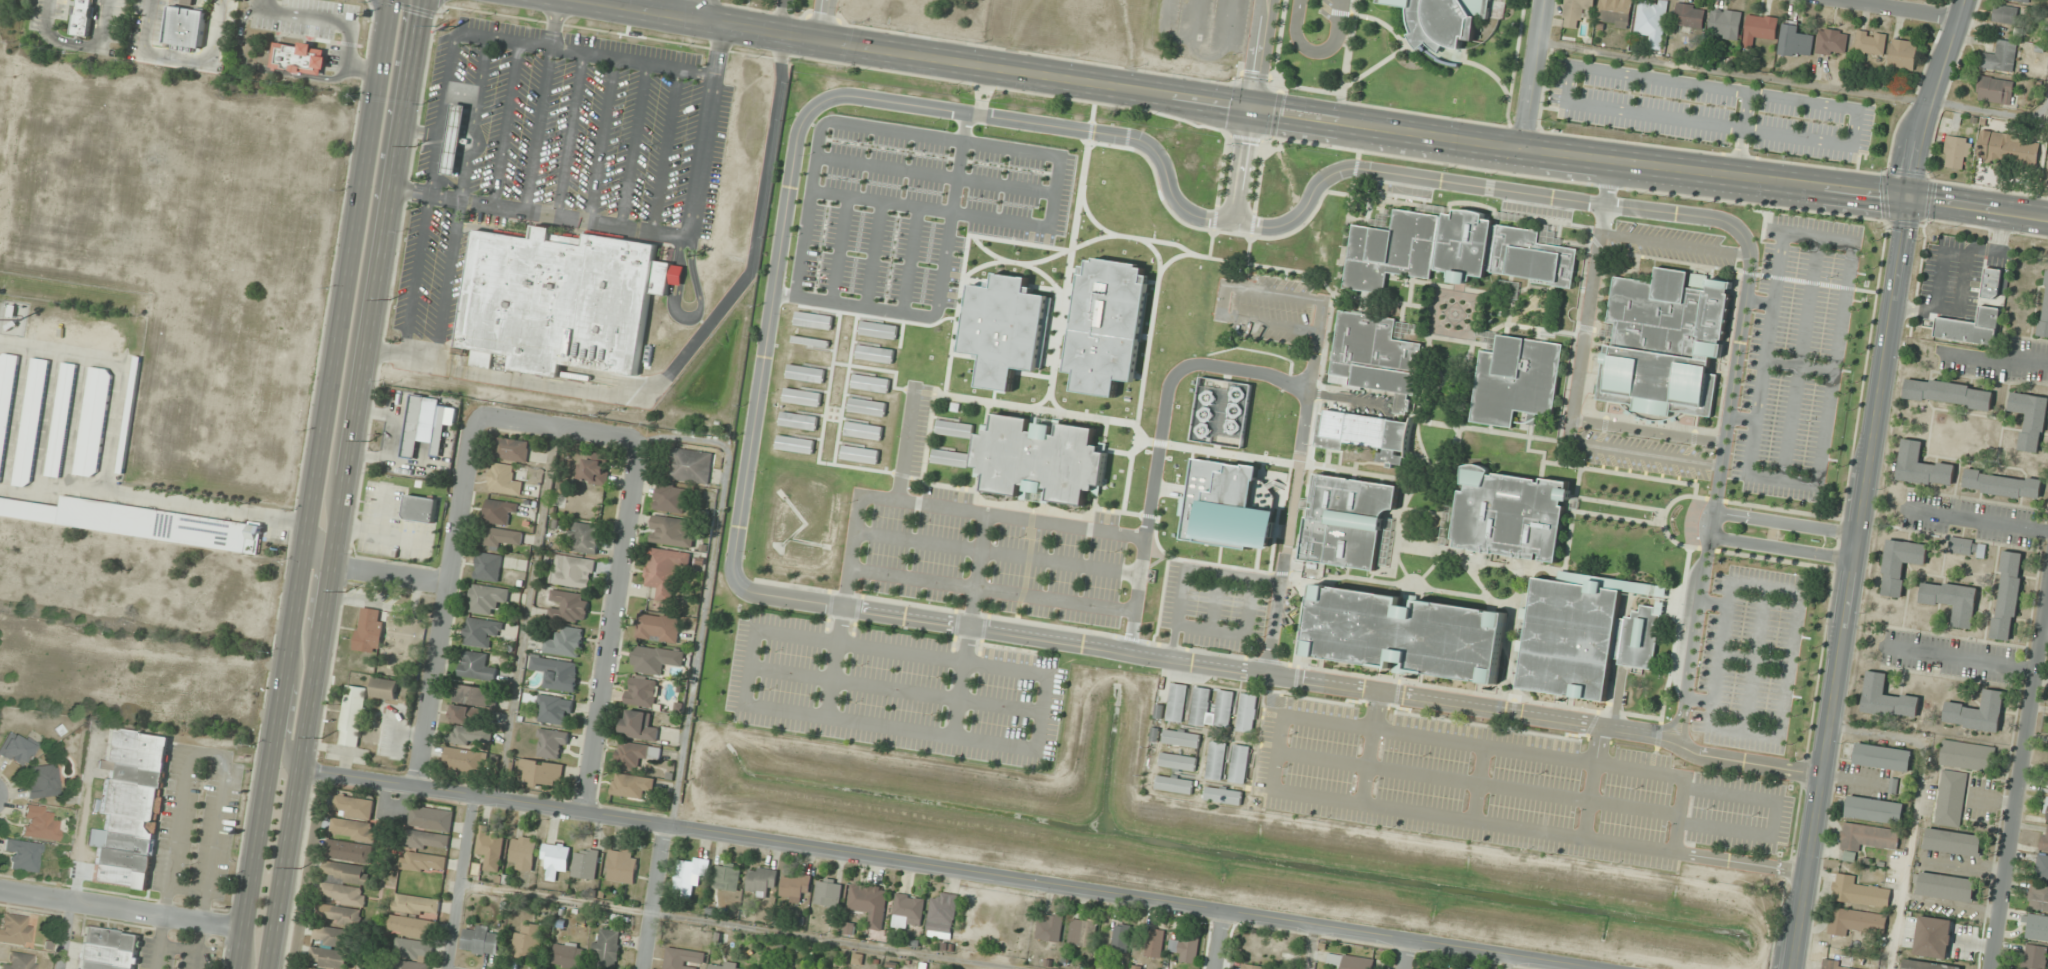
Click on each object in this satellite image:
building: (2022, 0)
road: (703, 8)
road: (1897, 10)
building: (1576, 12)
building: (1615, 12)
building: (2006, 14)
building: (1689, 17)
building: (84, 18)
road: (320, 18)
road: (827, 18)
building: (1440, 21)
building: (1653, 21)
road: (554, 23)
building: (1725, 23)
building: (184, 25)
building: (1760, 28)
road: (503, 39)
building: (1795, 40)
building: (1832, 42)
building: (1871, 43)
road: (1347, 48)
road: (1401, 48)
road: (1315, 50)
road: (1251, 54)
building: (1903, 54)
road: (1266, 55)
building: (298, 56)
building: (2000, 56)
road: (179, 58)
building: (1446, 62)
road: (1513, 63)
road: (1481, 67)
road: (261, 68)
road: (362, 68)
road: (1531, 74)
road: (1796, 81)
road: (1703, 86)
road: (984, 90)
building: (1995, 90)
road: (1933, 98)
road: (1354, 103)
road: (1135, 108)
traffic signals: (1253, 109)
road: (1254, 109)
road: (1744, 111)
road: (505, 123)
road: (860, 125)
road: (537, 128)
road: (703, 128)
road: (1531, 130)
road: (568, 133)
building: (453, 137)
gas station: (453, 137)
road: (601, 139)
road: (632, 144)
building: (2008, 148)
road: (664, 149)
road: (1705, 151)
building: (1954, 151)
road: (1244, 166)
road: (937, 174)
road: (1519, 174)
road: (1508, 190)
road: (1057, 192)
road: (460, 197)
traffic signals: (1910, 199)
road: (1318, 202)
road: (1979, 209)
road: (537, 212)
road: (1091, 218)
building: (1090, 234)
building: (1134, 240)
road: (1154, 241)
road: (1674, 244)
road: (840, 249)
building: (1452, 250)
road: (1156, 253)
building: (1067, 254)
road: (875, 255)
road: (910, 260)
road: (1017, 262)
building: (1130, 264)
road: (416, 274)
road: (1047, 276)
building: (1991, 283)
road: (1258, 290)
road: (784, 295)
building: (559, 298)
road: (1759, 300)
road: (843, 303)
road: (1587, 309)
road: (1841, 311)
building: (2044, 311)
road: (687, 317)
building: (811, 319)
road: (909, 323)
building: (1106, 325)
road: (1270, 325)
building: (1970, 327)
building: (1003, 328)
building: (877, 329)
road: (1152, 330)
road: (766, 336)
building: (808, 340)
building: (1662, 344)
road: (836, 345)
road: (685, 350)
building: (873, 352)
building: (1374, 355)
road: (1799, 358)
road: (1994, 359)
road: (125, 364)
road: (1797, 364)
building: (1050, 365)
road: (882, 370)
building: (804, 372)
building: (1516, 379)
building: (869, 381)
road: (1170, 388)
building: (1066, 392)
building: (1948, 393)
building: (6, 396)
building: (800, 396)
road: (1349, 397)
road: (995, 400)
building: (865, 406)
road: (16, 416)
building: (2030, 418)
building: (797, 419)
road: (46, 420)
building: (61, 420)
road: (73, 421)
building: (31, 422)
building: (93, 422)
building: (414, 426)
building: (953, 428)
building: (862, 429)
building: (440, 430)
road: (558, 430)
road: (1647, 431)
building: (1363, 433)
road: (926, 440)
building: (793, 443)
road: (905, 443)
road: (1162, 443)
building: (511, 449)
building: (858, 453)
road: (1643, 453)
building: (948, 457)
building: (1038, 459)
building: (691, 465)
building: (1921, 466)
building: (596, 468)
road: (1616, 473)
building: (504, 479)
building: (1263, 479)
road: (313, 484)
road: (344, 484)
building: (2002, 484)
road: (1128, 487)
road: (1295, 487)
road: (52, 490)
building: (671, 498)
road: (1604, 501)
road: (1023, 506)
building: (1223, 506)
building: (421, 509)
road: (1787, 510)
building: (500, 511)
road: (206, 512)
building: (1509, 513)
road: (1589, 513)
road: (1663, 516)
road: (1975, 519)
building: (135, 520)
building: (1345, 520)
road: (1785, 522)
building: (671, 531)
building: (503, 537)
building: (584, 537)
building: (1967, 546)
road: (1781, 548)
road: (997, 552)
road: (1779, 560)
building: (1900, 562)
building: (488, 566)
road: (1187, 566)
building: (572, 571)
road: (1163, 571)
building: (665, 572)
road: (391, 574)
road: (1139, 575)
road: (1851, 583)
road: (311, 591)
road: (705, 593)
building: (2007, 594)
building: (488, 599)
building: (1952, 599)
road: (1216, 601)
road: (447, 603)
building: (570, 606)
road: (843, 607)
road: (524, 615)
road: (1011, 619)
road: (1760, 621)
road: (967, 624)
building: (658, 627)
road: (612, 628)
building: (369, 629)
road: (2044, 629)
building: (482, 632)
building: (1404, 632)
building: (1573, 632)
road: (1237, 634)
building: (1639, 636)
road: (1674, 640)
building: (566, 641)
road: (993, 645)
road: (1959, 656)
building: (651, 659)
road: (1772, 659)
building: (477, 666)
building: (556, 672)
road: (1281, 675)
road: (1751, 677)
building: (384, 688)
road: (894, 688)
building: (642, 691)
road: (1464, 691)
building: (1886, 698)
road: (1697, 699)
road: (1784, 701)
building: (1180, 702)
building: (472, 703)
road: (1341, 703)
building: (1203, 706)
building: (1227, 708)
building: (554, 709)
building: (1977, 712)
road: (288, 713)
building: (1250, 713)
building: (352, 715)
building: (639, 725)
road: (1500, 727)
building: (469, 736)
building: (1183, 738)
road: (1570, 738)
building: (552, 743)
road: (1371, 747)
road: (1033, 748)
building: (17, 749)
building: (635, 754)
building: (1967, 755)
building: (1882, 756)
road: (1557, 757)
building: (463, 759)
building: (1180, 762)
building: (1219, 764)
building: (1242, 764)
building: (541, 772)
road: (2018, 776)
road: (1852, 779)
building: (42, 782)
road: (1477, 782)
road: (1590, 782)
road: (1479, 783)
building: (631, 785)
building: (1177, 785)
building: (1226, 796)
building: (1951, 797)
road: (1994, 803)
building: (129, 807)
building: (355, 807)
building: (2046, 808)
building: (1875, 809)
building: (432, 818)
road: (1678, 818)
building: (40, 823)
building: (354, 829)
road: (1539, 832)
building: (1866, 838)
building: (2045, 838)
building: (428, 840)
building: (1953, 841)
building: (490, 848)
building: (348, 850)
building: (523, 853)
building: (23, 855)
building: (555, 858)
building: (426, 861)
building: (586, 863)
building: (622, 865)
road: (1966, 866)
building: (2042, 868)
road: (944, 869)
building: (346, 872)
building: (690, 875)
building: (727, 876)
building: (761, 881)
road: (460, 883)
building: (1945, 886)
building: (795, 887)
building: (1859, 891)
building: (828, 892)
building: (344, 893)
road: (652, 897)
building: (2038, 897)
building: (869, 903)
building: (418, 904)
road: (121, 911)
building: (908, 911)
building: (340, 914)
building: (942, 914)
building: (1855, 920)
building: (412, 926)
road: (742, 927)
building: (1051, 928)
building: (2037, 928)
building: (15, 929)
building: (1088, 932)
building: (333, 936)
building: (1121, 938)
building: (482, 940)
road: (1216, 940)
building: (1155, 943)
building: (1188, 947)
road: (1309, 947)
building: (108, 949)
building: (415, 949)
building: (606, 949)
building: (569, 955)
road: (1403, 955)
building: (2035, 956)
building: (330, 957)
building: (683, 959)
building: (1351, 961)
building: (1838, 961)
building: (20, 962)
road: (1508, 963)
building: (1926, 964)
building: (412, 965)
building: (727, 965)
building: (1255, 967)

